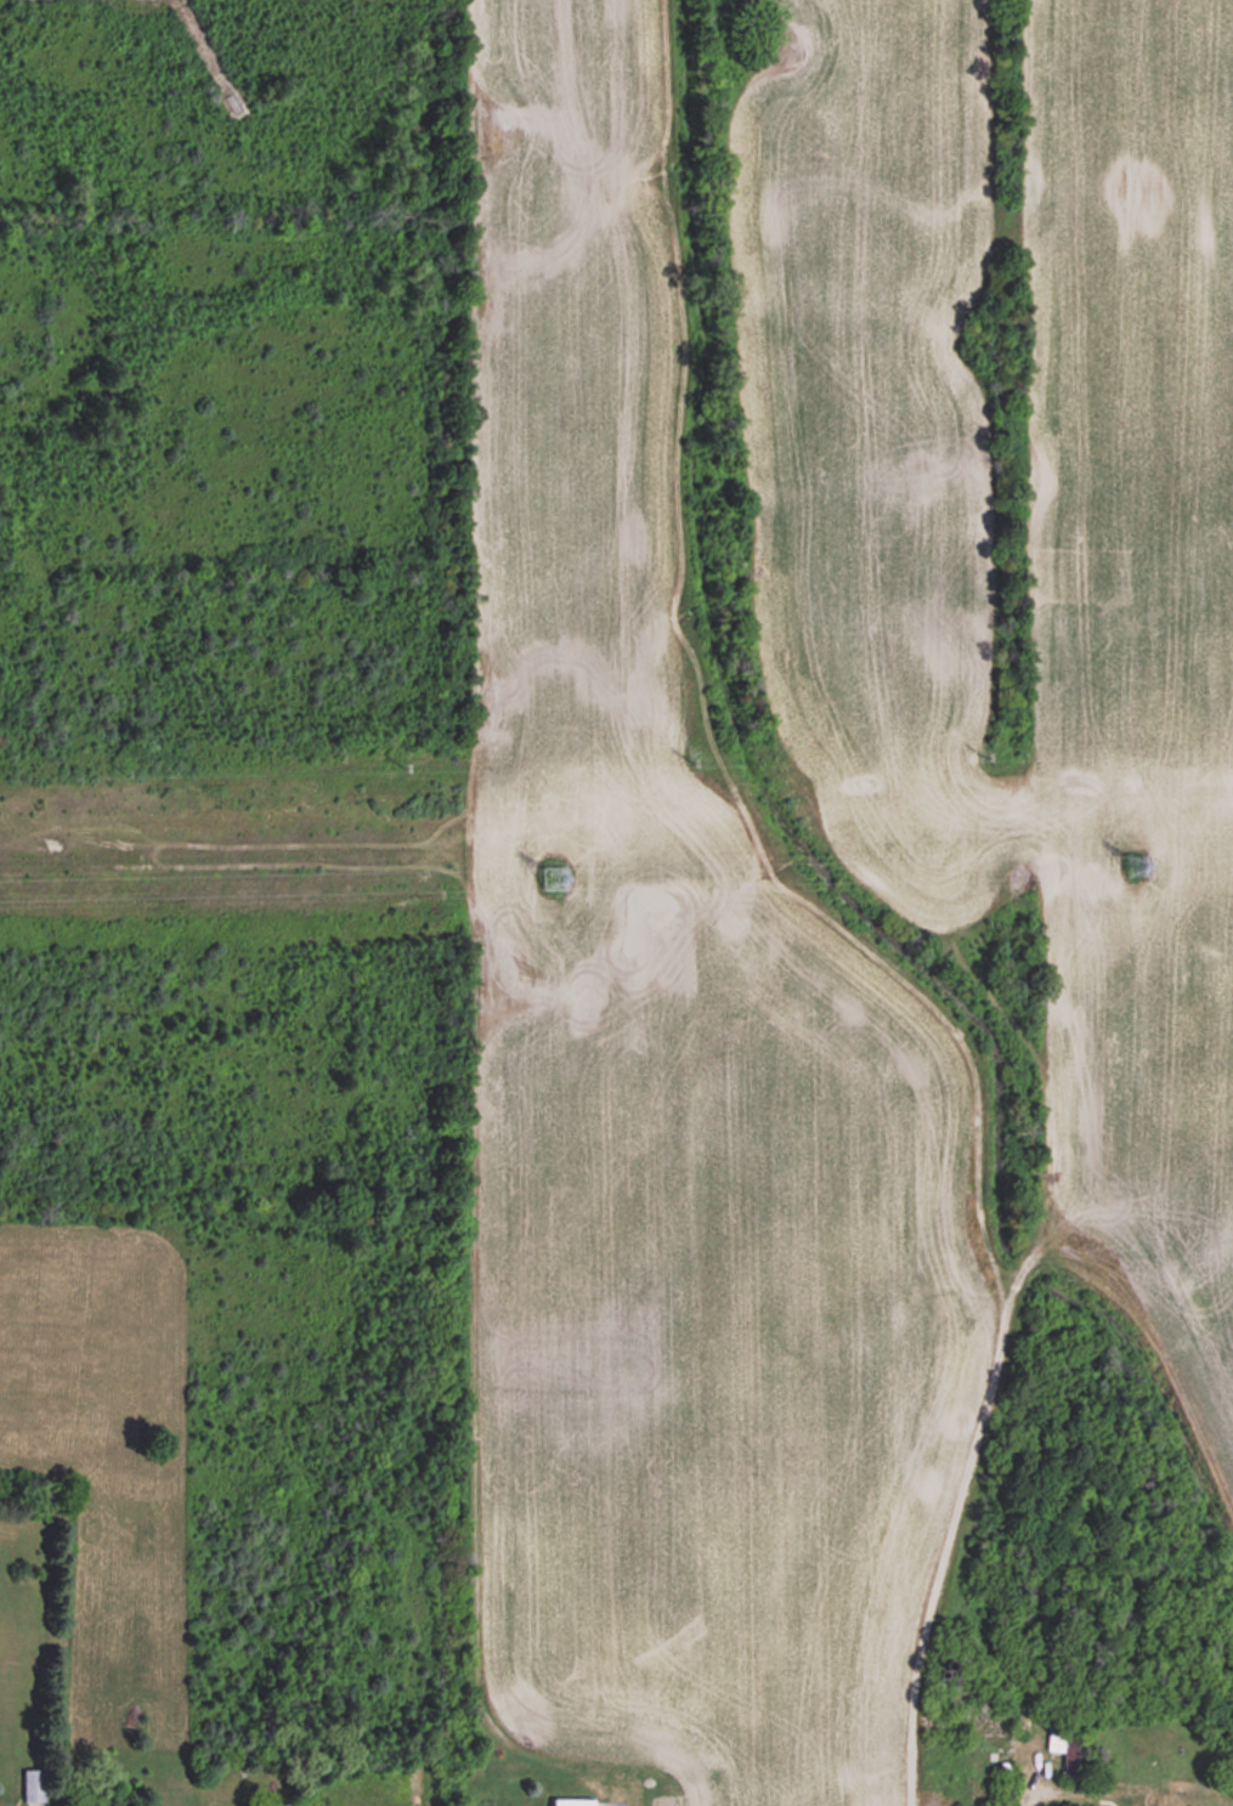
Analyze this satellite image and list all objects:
power tower: (1137, 866)
power tower: (554, 878)
building: (1071, 1756)
building: (34, 1787)
road: (1022, 1801)
building: (572, 1804)
building: (278, 1805)

